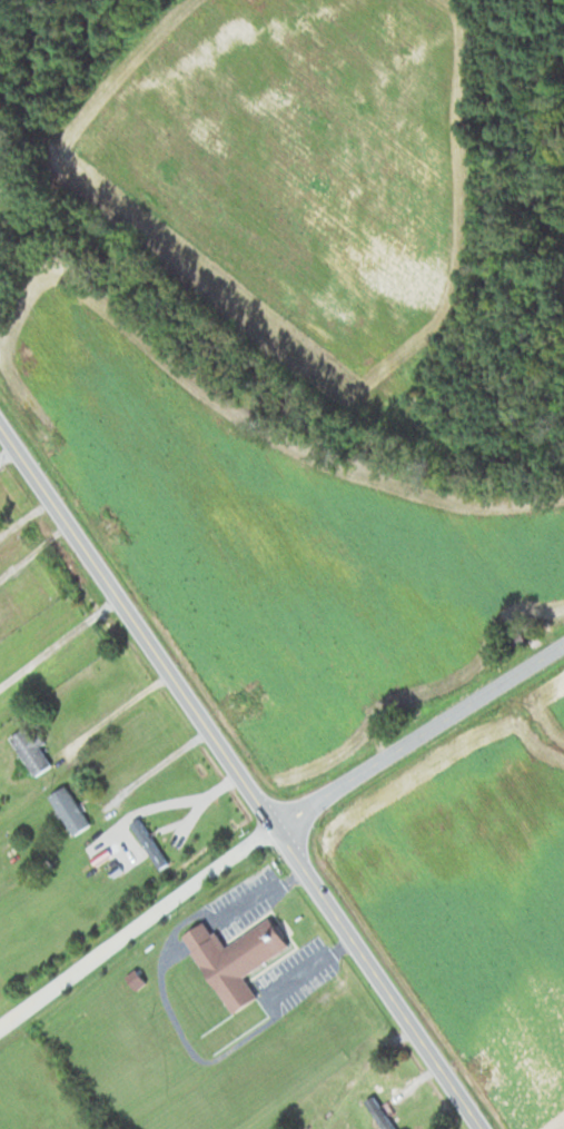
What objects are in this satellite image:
road: (6, 449)
road: (22, 512)
road: (32, 548)
road: (57, 637)
road: (111, 707)
road: (418, 731)
building: (30, 746)
road: (151, 763)
road: (240, 778)
road: (168, 800)
building: (69, 809)
building: (148, 841)
road: (137, 923)
building: (236, 957)
building: (377, 1111)

